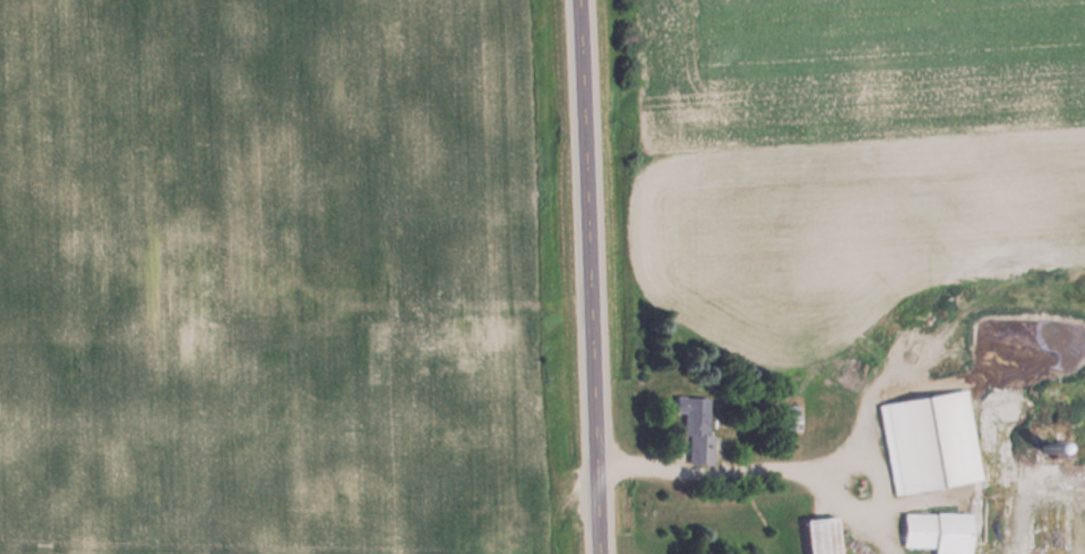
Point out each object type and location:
road: (587, 276)
building: (792, 418)
building: (698, 427)
building: (1063, 432)
building: (935, 442)
building: (1008, 450)
building: (940, 532)
building: (825, 535)

